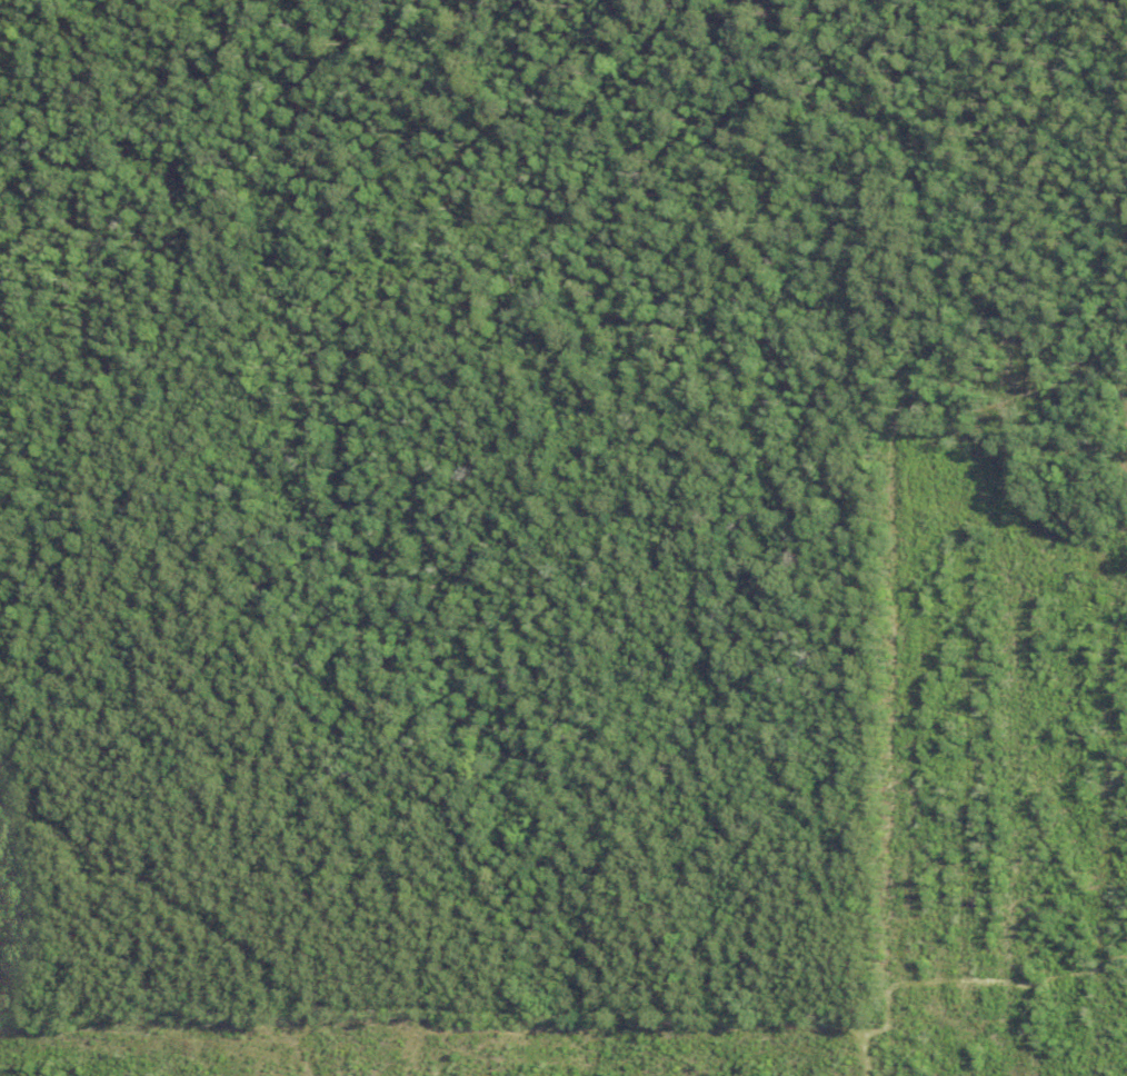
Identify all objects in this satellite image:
building: (834, 974)
road: (867, 1056)

